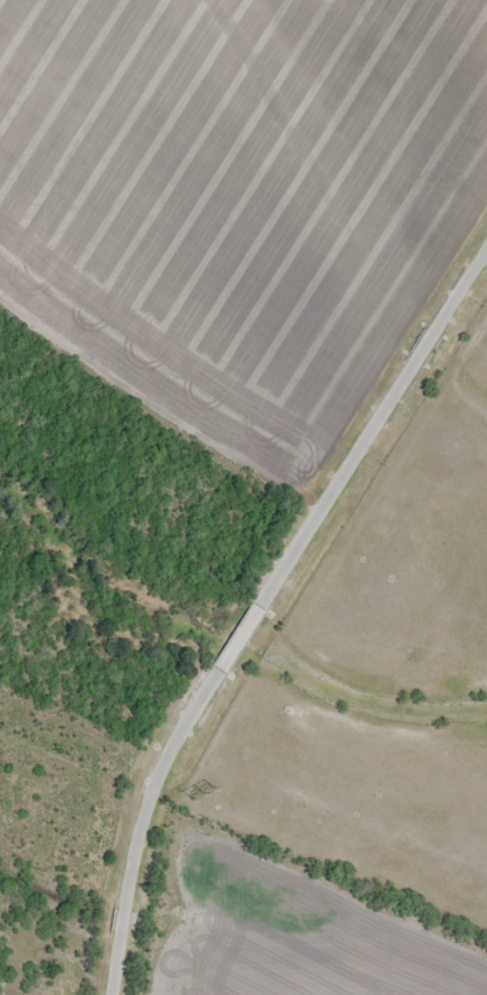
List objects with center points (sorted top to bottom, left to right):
road: (257, 605)
power tower: (200, 794)

